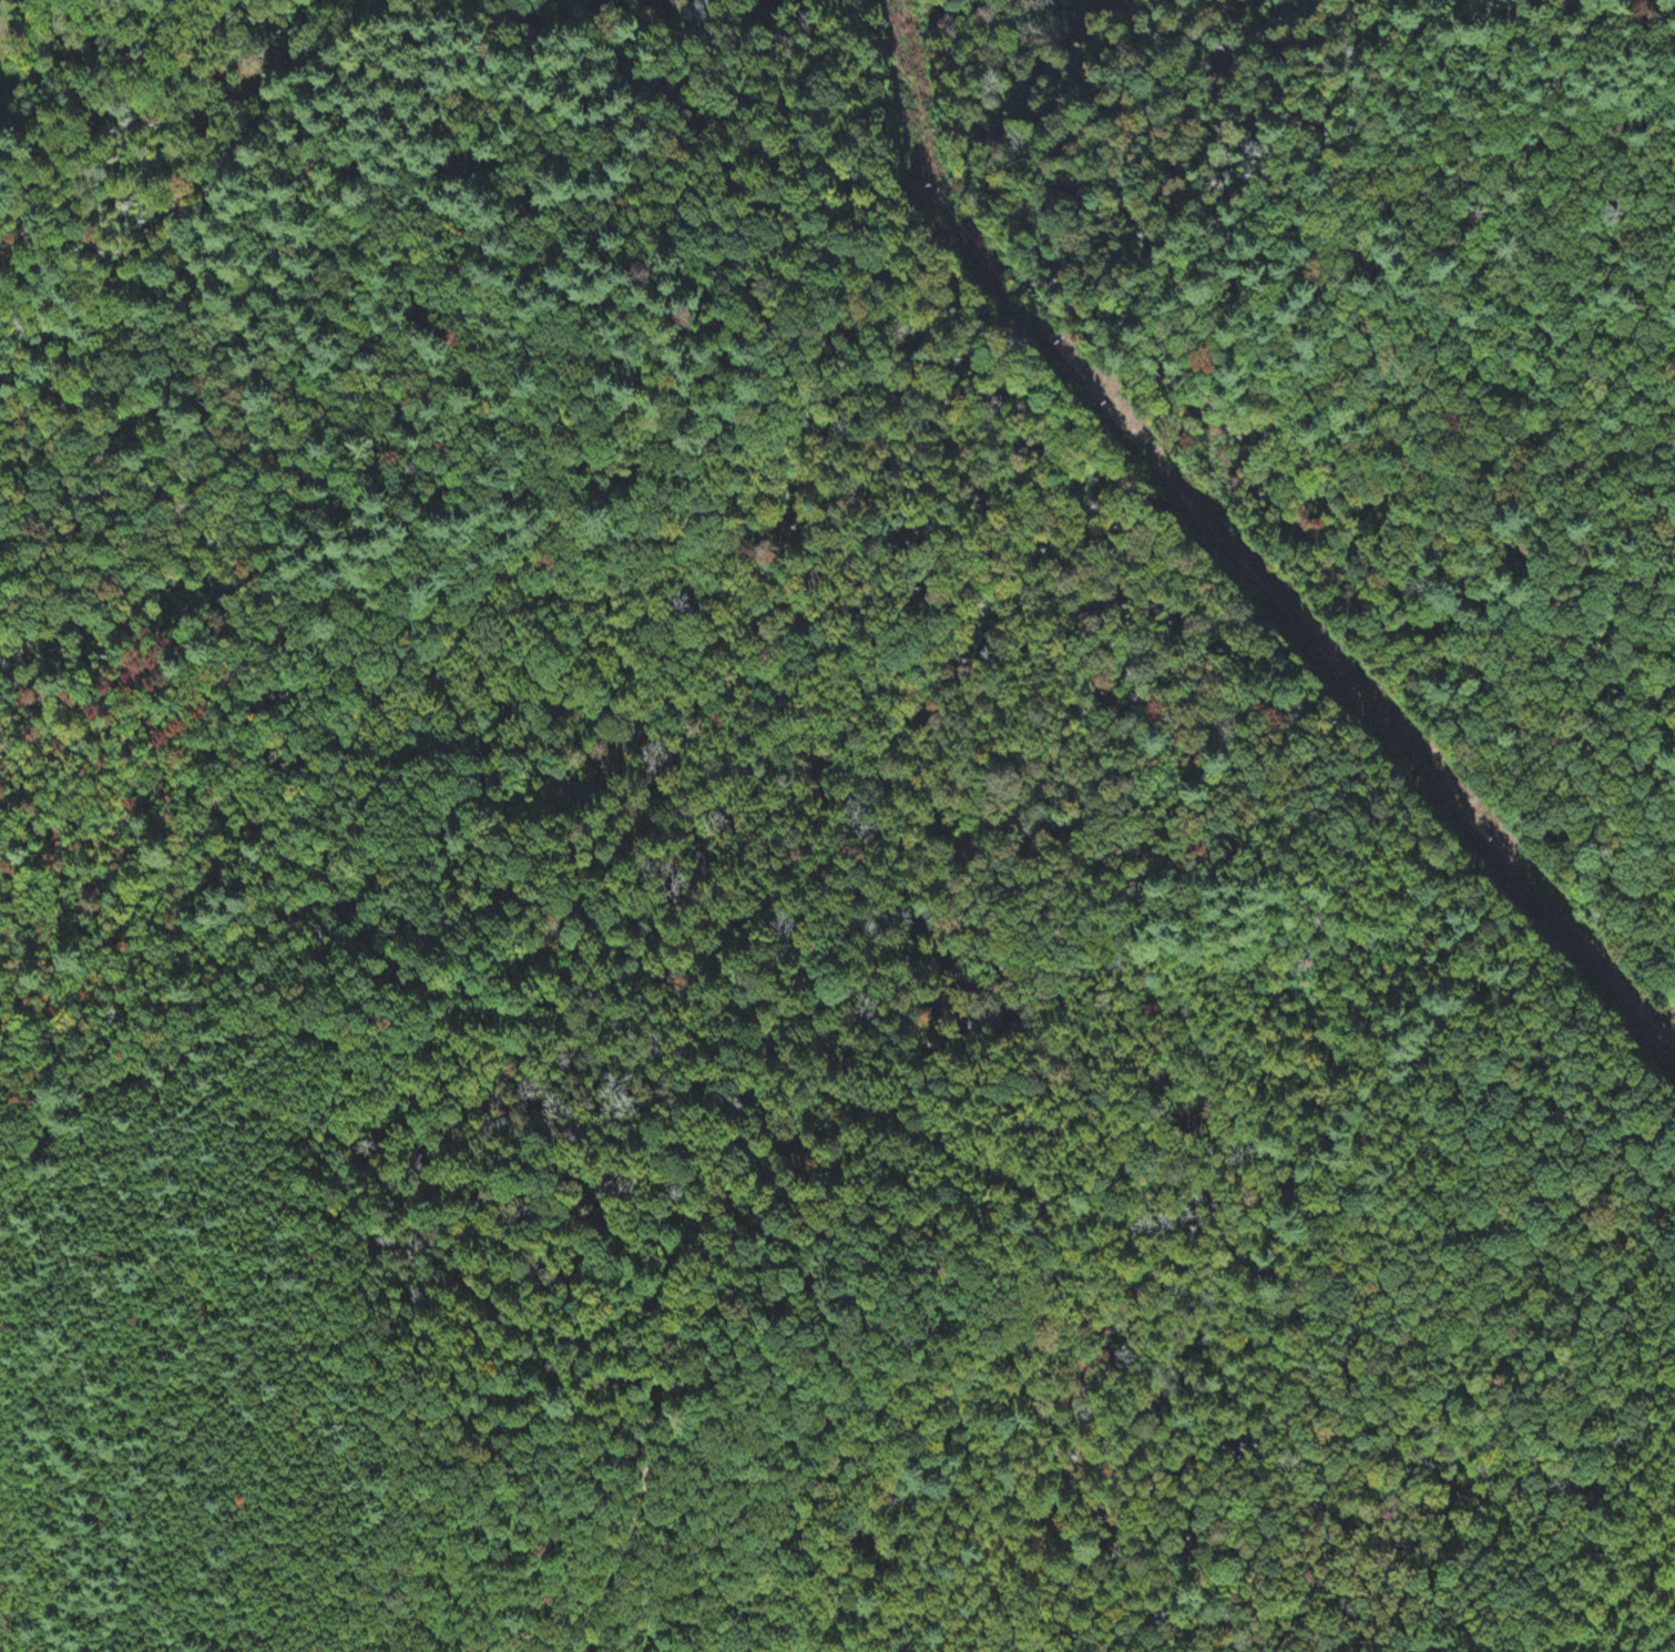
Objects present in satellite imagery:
road: (3, 12)
road: (11, 278)
road: (469, 613)

